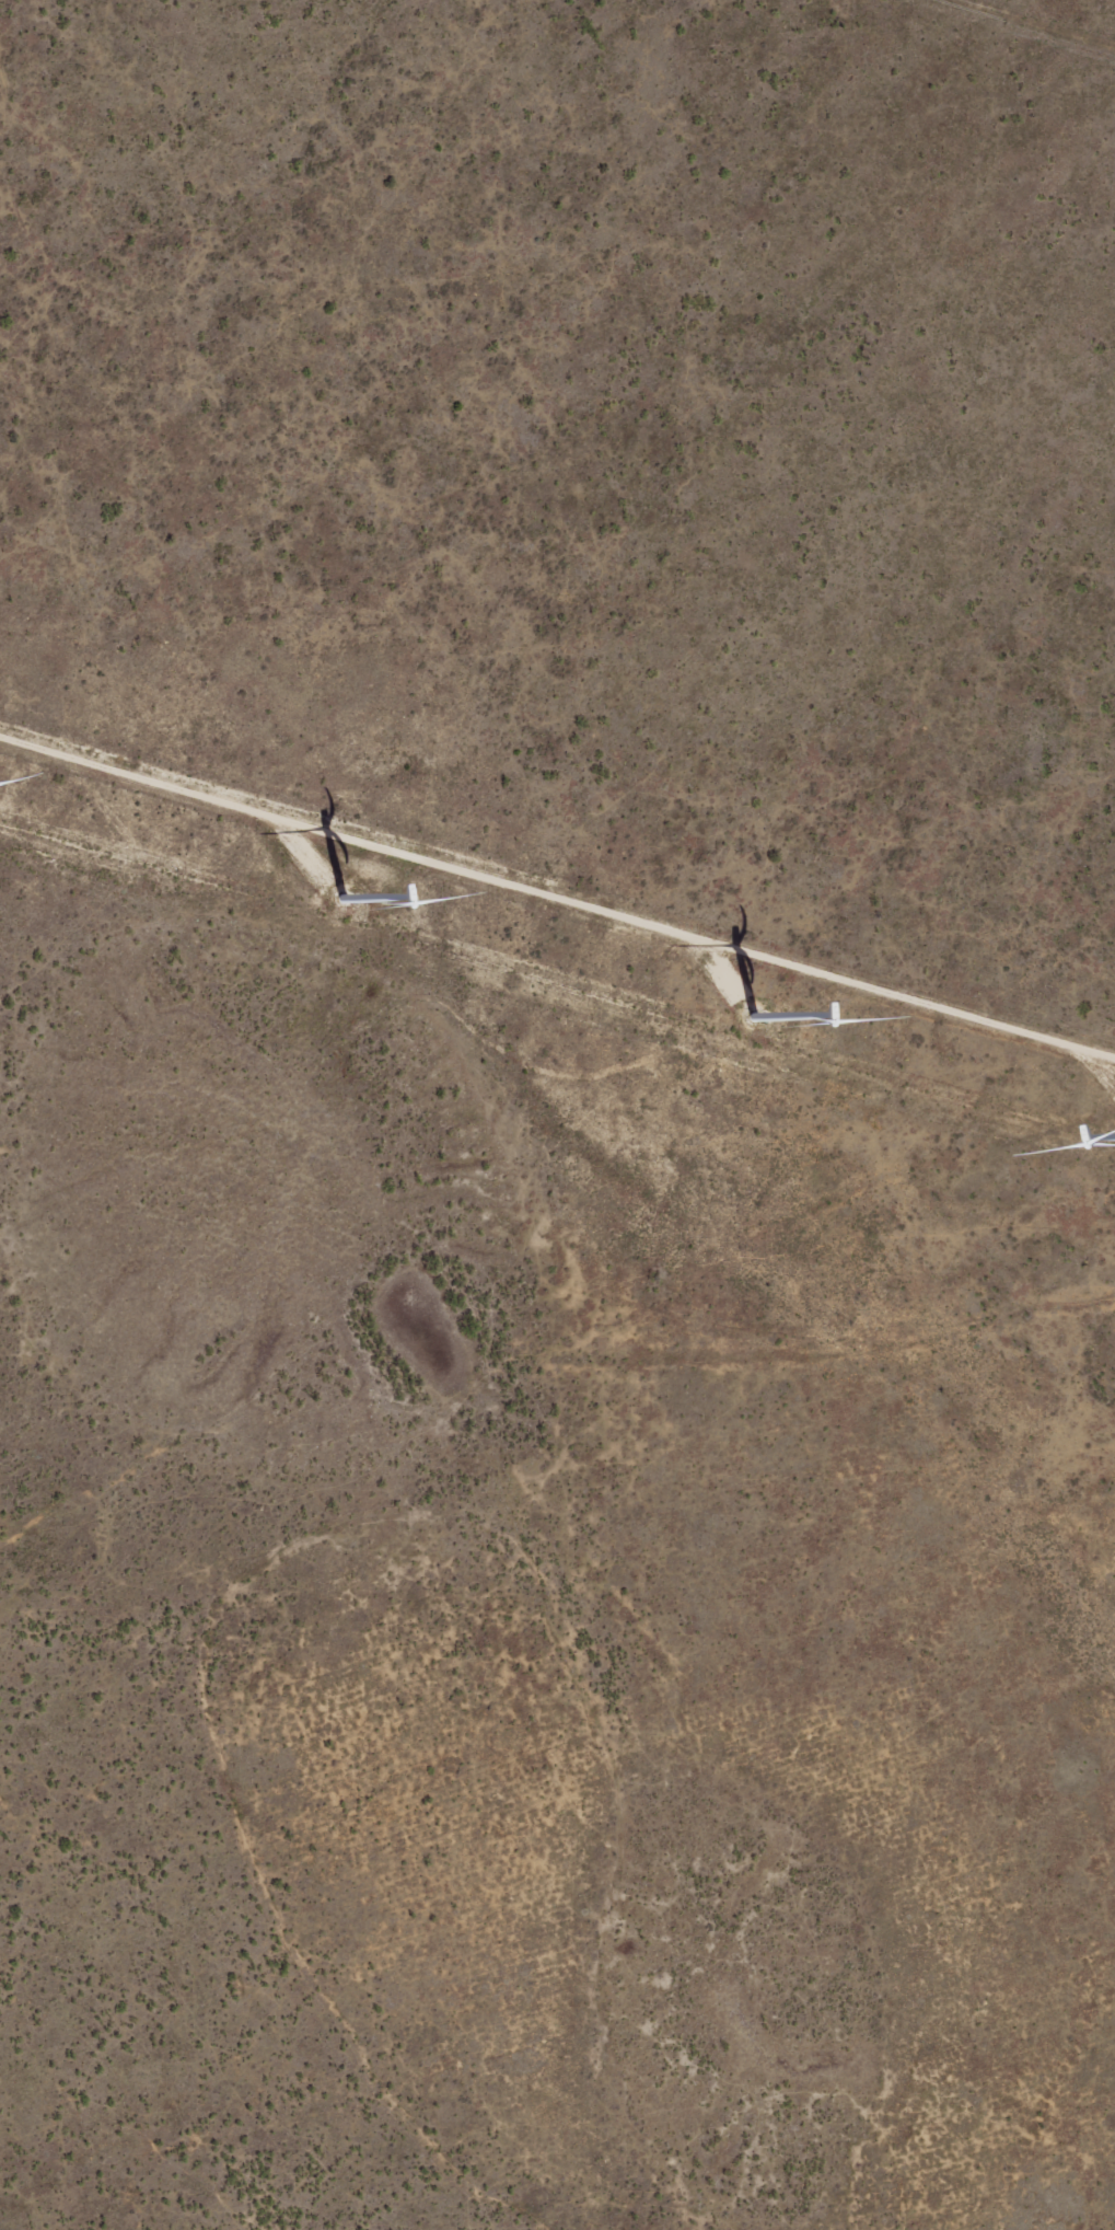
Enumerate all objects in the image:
wind turbine: (304, 852)
wind turbine: (780, 1030)

